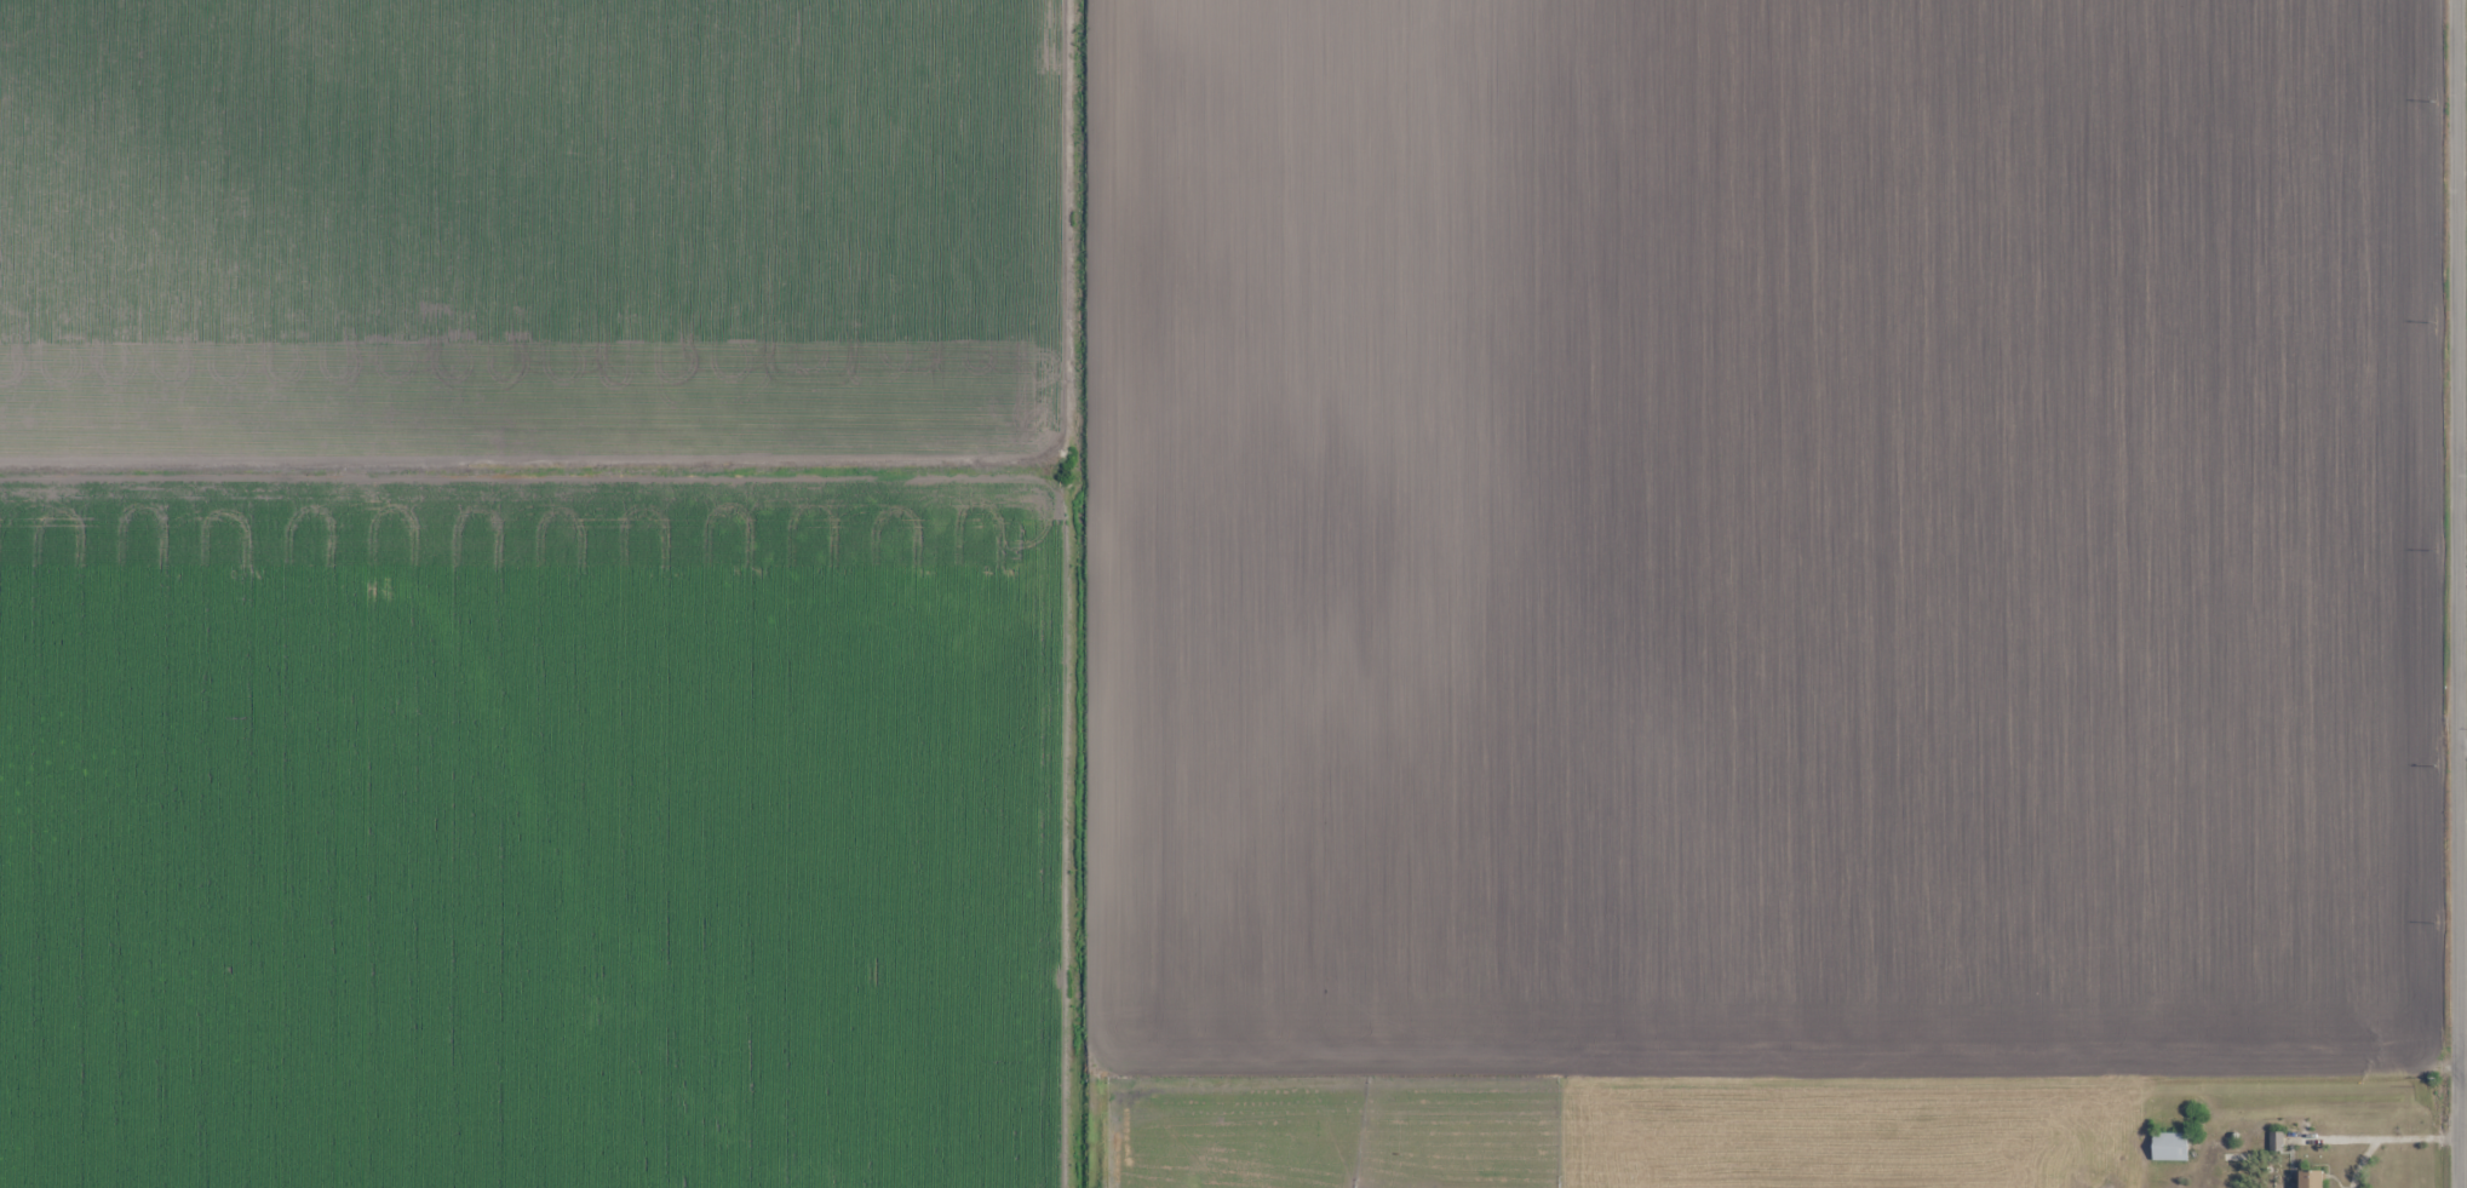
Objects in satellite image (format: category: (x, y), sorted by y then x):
road: (2446, 593)
building: (2277, 1142)
building: (2169, 1147)
building: (2310, 1178)

